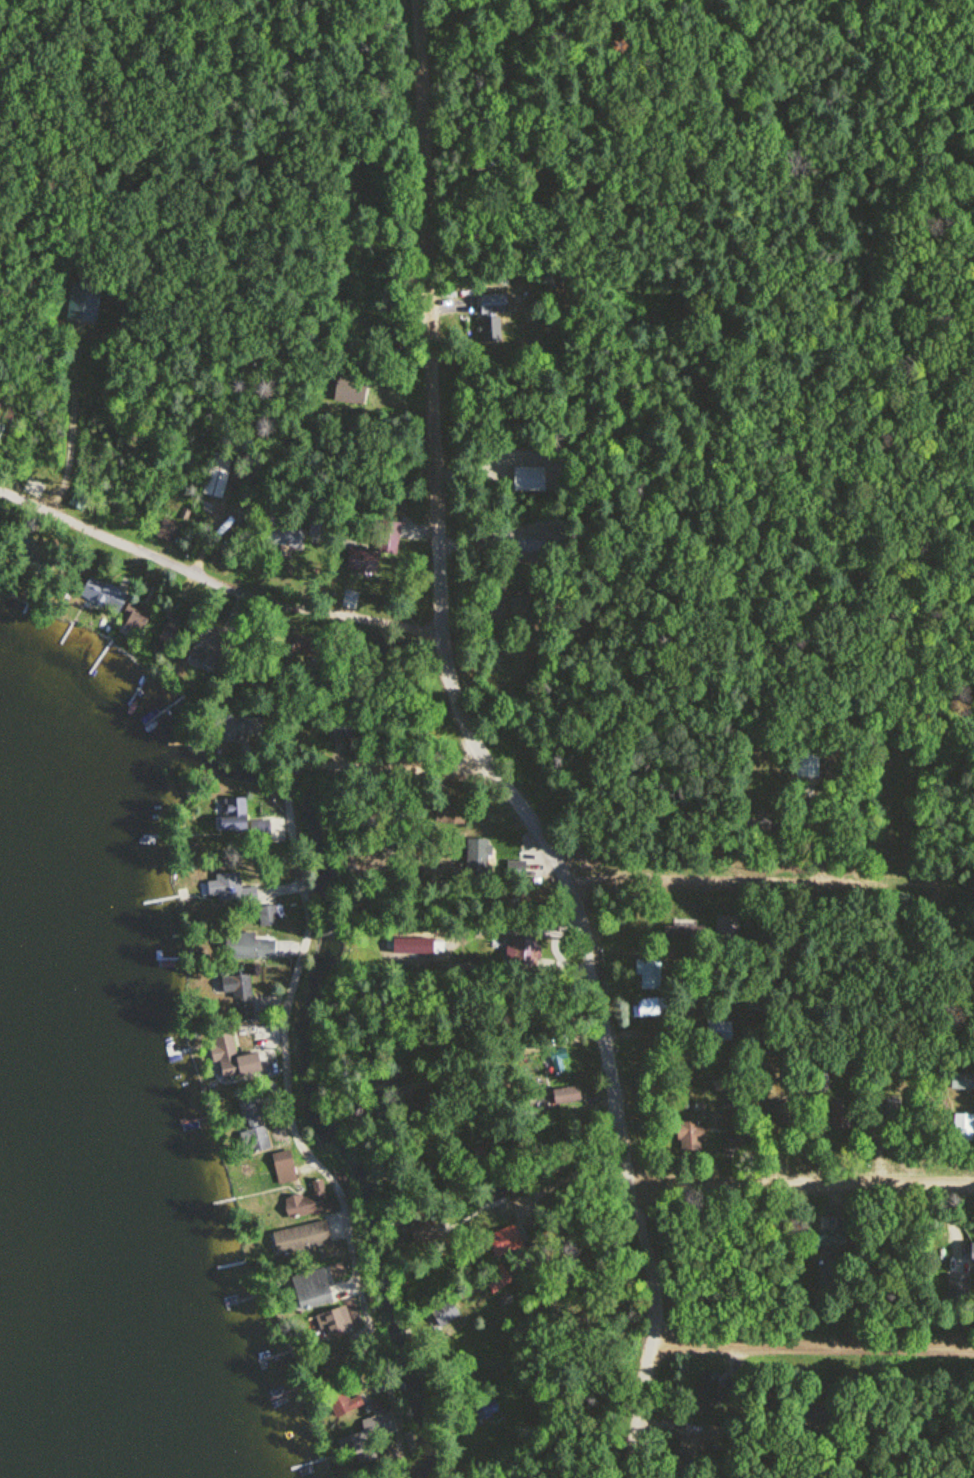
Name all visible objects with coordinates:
road: (430, 228)
building: (82, 300)
building: (491, 316)
building: (215, 482)
building: (35, 488)
building: (315, 529)
building: (168, 530)
building: (284, 536)
building: (388, 537)
road: (213, 579)
building: (102, 594)
building: (523, 610)
building: (134, 618)
building: (241, 727)
building: (341, 730)
building: (807, 763)
building: (896, 787)
building: (445, 813)
building: (231, 815)
building: (477, 858)
building: (518, 866)
road: (726, 882)
building: (230, 888)
building: (268, 915)
building: (726, 928)
building: (686, 933)
building: (244, 946)
building: (523, 951)
road: (592, 952)
building: (649, 973)
building: (232, 985)
road: (287, 1003)
building: (647, 1006)
building: (719, 1030)
building: (231, 1058)
building: (567, 1095)
building: (840, 1116)
building: (253, 1127)
building: (963, 1128)
building: (690, 1136)
building: (733, 1146)
building: (283, 1168)
road: (803, 1187)
building: (493, 1192)
building: (310, 1203)
building: (422, 1232)
building: (306, 1240)
building: (504, 1240)
building: (829, 1243)
building: (972, 1254)
building: (822, 1275)
building: (496, 1279)
building: (957, 1286)
building: (310, 1290)
building: (444, 1314)
building: (331, 1322)
road: (813, 1347)
building: (705, 1394)
building: (343, 1400)
building: (487, 1409)
building: (378, 1425)
building: (694, 1446)

